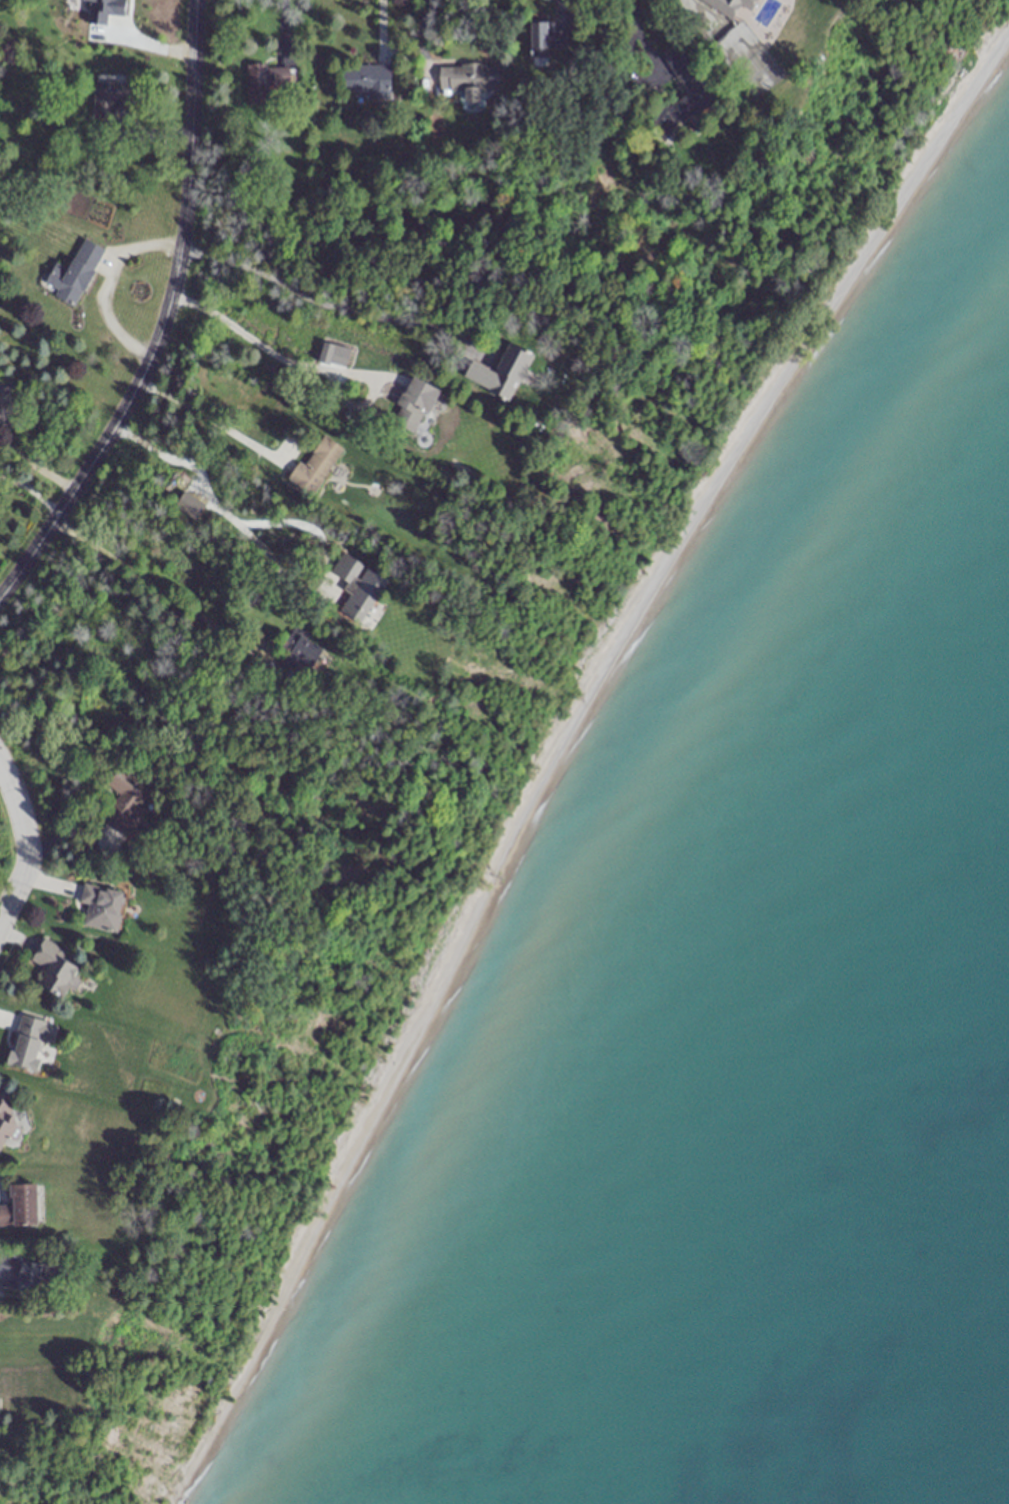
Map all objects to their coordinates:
road: (697, 12)
road: (633, 26)
building: (751, 27)
road: (380, 29)
road: (419, 34)
building: (546, 38)
building: (684, 74)
building: (468, 79)
building: (267, 80)
building: (367, 80)
building: (109, 98)
building: (80, 272)
road: (107, 281)
road: (317, 295)
road: (162, 315)
road: (253, 342)
building: (414, 405)
road: (205, 417)
building: (316, 466)
road: (212, 498)
building: (189, 506)
building: (359, 587)
building: (299, 653)
building: (125, 798)
road: (27, 842)
building: (101, 907)
building: (57, 969)
building: (30, 1041)
building: (8, 1119)
building: (21, 1205)
building: (43, 1277)
building: (23, 1373)

